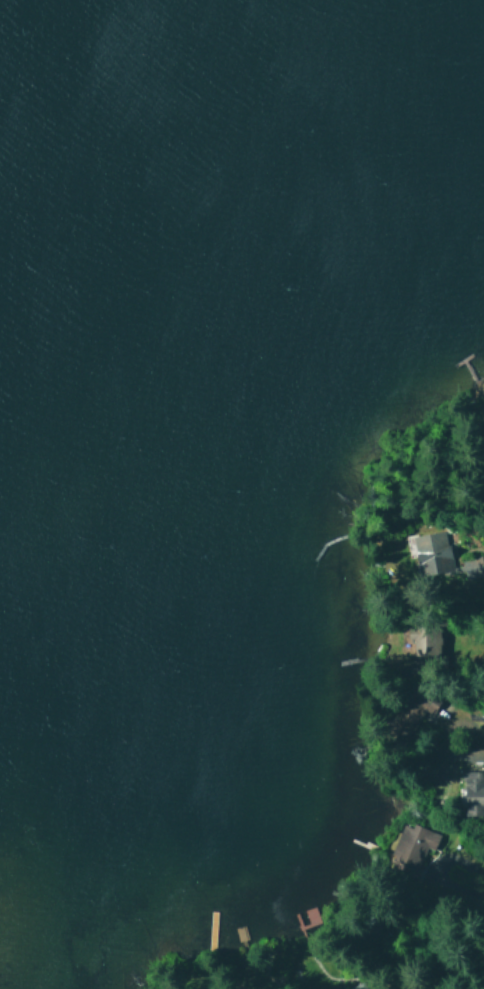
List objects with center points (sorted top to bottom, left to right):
building: (429, 550)
building: (422, 638)
building: (412, 709)
building: (471, 790)
building: (411, 844)
building: (358, 986)

